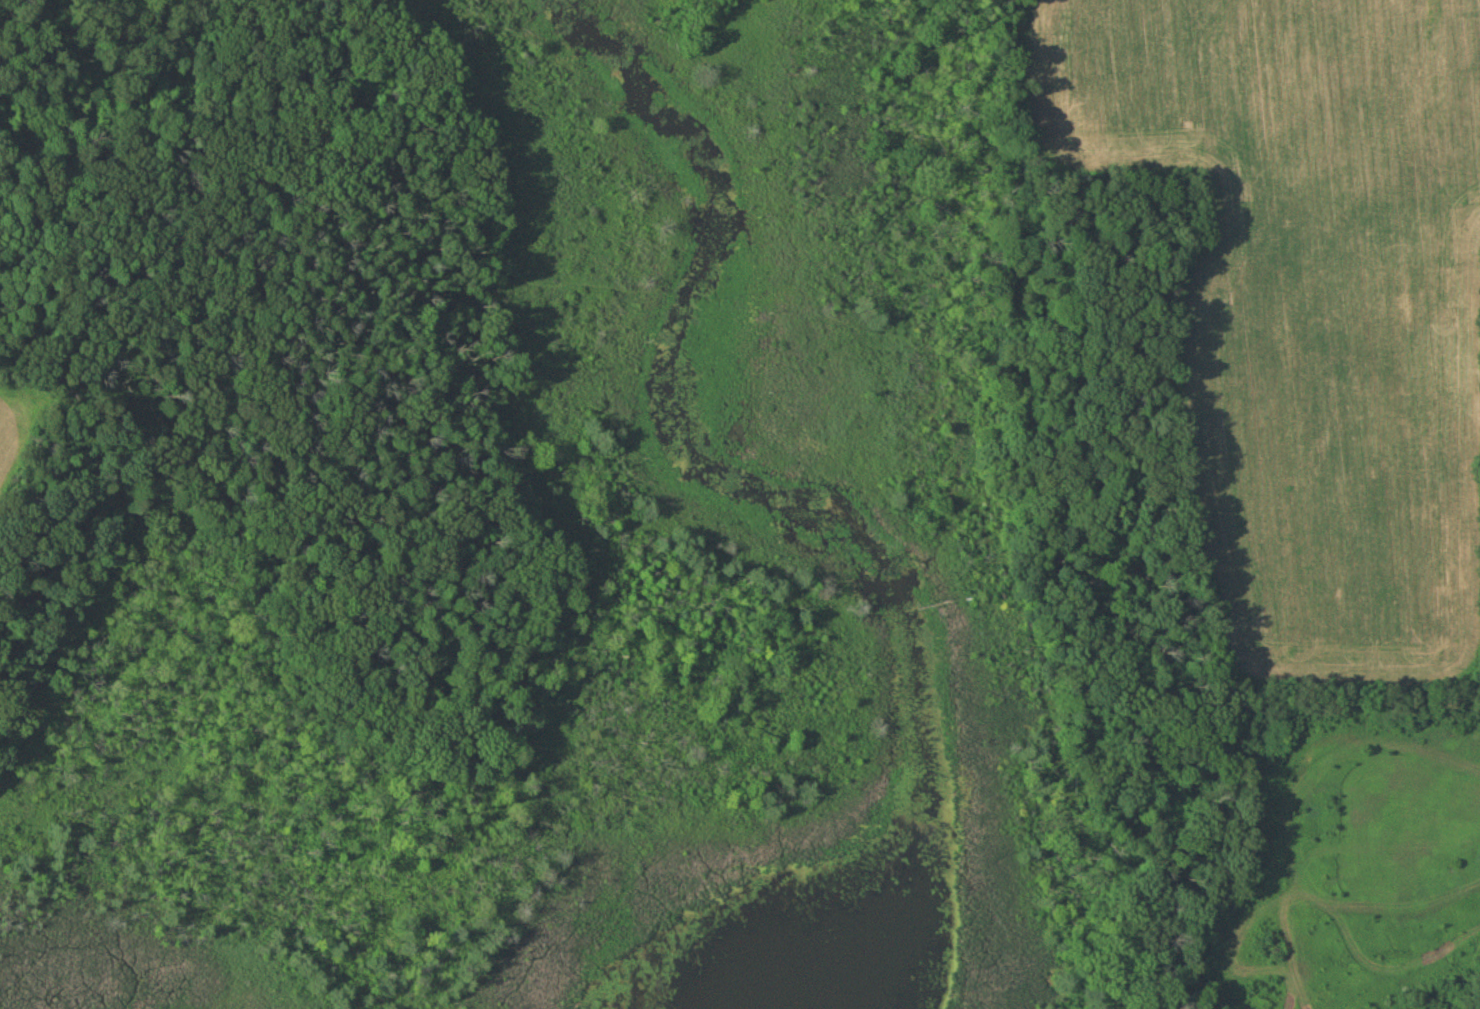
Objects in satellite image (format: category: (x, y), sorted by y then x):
river: (692, 434)

